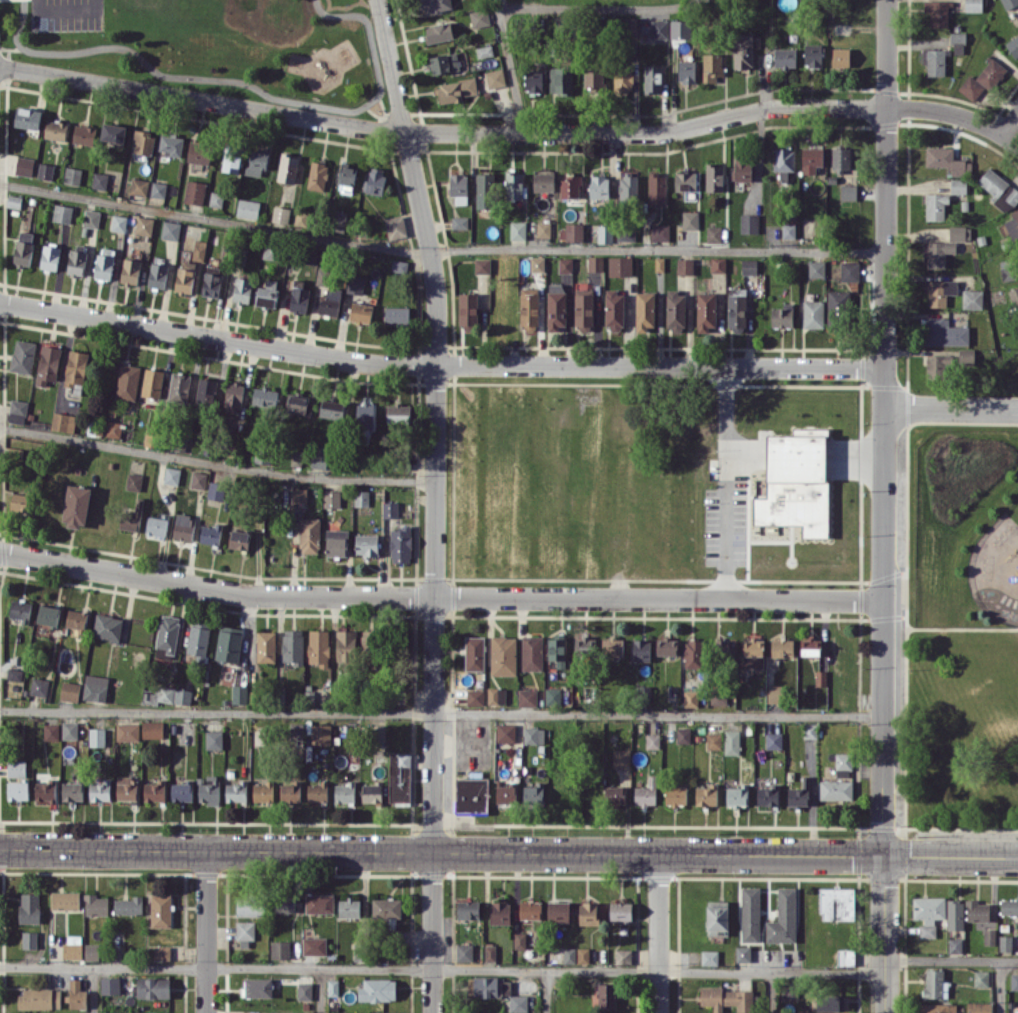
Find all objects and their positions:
building: (1009, 3)
building: (787, 4)
building: (433, 5)
building: (973, 5)
road: (597, 8)
building: (937, 12)
building: (479, 17)
building: (629, 24)
building: (658, 28)
building: (680, 28)
building: (438, 32)
building: (957, 42)
building: (1013, 44)
park: (212, 47)
building: (484, 50)
building: (742, 50)
building: (812, 54)
building: (785, 57)
building: (840, 57)
building: (934, 61)
building: (444, 63)
building: (712, 66)
road: (508, 67)
building: (686, 71)
building: (494, 78)
building: (623, 78)
building: (652, 78)
building: (560, 79)
building: (593, 79)
building: (533, 80)
building: (981, 80)
building: (455, 89)
road: (956, 114)
building: (27, 117)
road: (1011, 124)
building: (56, 129)
building: (113, 132)
building: (84, 134)
road: (441, 135)
building: (143, 142)
building: (170, 144)
building: (199, 152)
building: (840, 158)
building: (231, 159)
building: (811, 159)
building: (947, 160)
building: (256, 162)
building: (783, 162)
building: (24, 165)
building: (287, 168)
building: (742, 169)
building: (45, 170)
building: (72, 175)
building: (317, 175)
building: (346, 175)
building: (714, 177)
building: (99, 180)
building: (375, 180)
building: (685, 181)
building: (543, 182)
building: (513, 185)
building: (628, 185)
building: (958, 185)
building: (138, 186)
building: (569, 186)
building: (599, 186)
building: (458, 187)
building: (656, 188)
building: (158, 189)
building: (484, 190)
building: (999, 190)
building: (194, 192)
building: (848, 192)
building: (216, 199)
building: (935, 206)
building: (247, 208)
building: (62, 213)
building: (280, 214)
building: (91, 218)
building: (689, 220)
building: (459, 222)
building: (118, 223)
building: (749, 223)
building: (1013, 224)
building: (144, 225)
building: (395, 227)
building: (543, 229)
building: (170, 230)
building: (517, 230)
building: (788, 230)
building: (571, 232)
building: (659, 232)
building: (959, 232)
building: (625, 233)
building: (714, 233)
building: (604, 234)
building: (23, 248)
road: (440, 248)
building: (198, 249)
building: (271, 251)
building: (937, 253)
building: (50, 256)
building: (76, 260)
building: (104, 263)
building: (595, 263)
building: (537, 264)
building: (718, 264)
building: (399, 265)
building: (481, 265)
building: (565, 265)
building: (620, 265)
building: (685, 266)
building: (748, 266)
building: (816, 268)
building: (130, 270)
building: (1008, 270)
building: (849, 271)
building: (157, 275)
building: (322, 275)
building: (185, 276)
building: (211, 280)
building: (355, 284)
building: (242, 289)
building: (940, 291)
building: (267, 293)
building: (299, 296)
building: (1014, 296)
building: (972, 298)
building: (330, 301)
building: (837, 305)
building: (528, 306)
building: (736, 307)
building: (556, 309)
building: (583, 309)
building: (467, 310)
building: (613, 310)
building: (644, 310)
building: (675, 310)
building: (360, 312)
building: (705, 312)
building: (813, 313)
building: (397, 315)
building: (782, 315)
building: (944, 332)
building: (22, 356)
building: (966, 356)
building: (48, 364)
road: (441, 364)
building: (939, 365)
building: (75, 369)
building: (128, 381)
building: (152, 382)
building: (179, 386)
building: (206, 391)
building: (233, 396)
building: (264, 396)
building: (298, 404)
road: (953, 406)
building: (331, 408)
building: (17, 411)
building: (398, 413)
building: (365, 415)
building: (63, 421)
road: (436, 422)
building: (114, 429)
building: (151, 437)
building: (319, 456)
building: (296, 458)
road: (217, 464)
building: (171, 475)
building: (133, 481)
road: (726, 482)
building: (795, 484)
building: (216, 491)
building: (299, 495)
building: (361, 497)
building: (332, 498)
building: (20, 502)
building: (76, 505)
road: (886, 506)
building: (389, 509)
building: (132, 516)
building: (156, 526)
building: (184, 527)
building: (210, 533)
building: (309, 534)
building: (239, 539)
building: (336, 542)
building: (366, 544)
building: (400, 544)
road: (441, 597)
building: (20, 610)
building: (48, 614)
building: (76, 619)
building: (107, 627)
building: (167, 632)
building: (198, 639)
building: (228, 643)
building: (266, 646)
building: (292, 646)
building: (318, 646)
building: (345, 646)
building: (583, 646)
building: (612, 646)
building: (666, 646)
building: (810, 646)
building: (782, 648)
building: (557, 650)
building: (640, 650)
building: (532, 652)
building: (474, 653)
building: (694, 653)
building: (753, 653)
building: (503, 655)
building: (14, 674)
building: (820, 678)
building: (38, 686)
building: (95, 687)
building: (69, 690)
building: (774, 693)
building: (239, 694)
building: (167, 695)
building: (496, 695)
building: (552, 696)
building: (475, 697)
building: (527, 697)
building: (718, 697)
building: (690, 698)
road: (442, 714)
building: (152, 729)
building: (69, 730)
building: (51, 731)
building: (127, 731)
building: (296, 731)
building: (505, 732)
building: (320, 733)
building: (379, 733)
building: (683, 734)
building: (533, 735)
building: (97, 737)
building: (214, 739)
building: (652, 740)
building: (713, 740)
building: (773, 740)
building: (731, 742)
building: (621, 757)
building: (843, 764)
building: (16, 766)
building: (399, 776)
building: (18, 788)
building: (127, 788)
building: (209, 789)
building: (835, 789)
building: (45, 790)
building: (100, 790)
building: (72, 791)
building: (154, 791)
building: (236, 791)
building: (317, 791)
building: (181, 792)
building: (262, 792)
building: (290, 792)
building: (344, 792)
building: (371, 792)
building: (506, 792)
building: (533, 793)
building: (646, 793)
building: (799, 793)
building: (737, 794)
building: (471, 795)
building: (615, 795)
building: (675, 795)
building: (706, 795)
building: (767, 795)
road: (508, 852)
traffic signals: (884, 856)
building: (65, 900)
building: (284, 903)
building: (319, 903)
building: (837, 903)
building: (96, 904)
building: (129, 905)
building: (249, 905)
building: (1009, 906)
building: (29, 907)
building: (349, 907)
building: (386, 908)
building: (467, 909)
building: (530, 909)
building: (160, 910)
building: (621, 910)
building: (977, 910)
building: (558, 911)
building: (499, 913)
building: (591, 913)
building: (750, 914)
building: (928, 914)
building: (955, 914)
building: (717, 917)
building: (783, 917)
road: (207, 931)
building: (245, 932)
road: (435, 932)
road: (659, 934)
building: (989, 936)
building: (29, 939)
building: (519, 940)
building: (1005, 942)
building: (314, 945)
building: (955, 945)
building: (73, 947)
building: (280, 949)
building: (92, 951)
building: (489, 951)
building: (162, 952)
building: (464, 952)
building: (742, 953)
building: (569, 955)
building: (582, 955)
building: (623, 956)
building: (845, 956)
building: (709, 957)
road: (950, 958)
road: (441, 968)
building: (981, 978)
building: (1014, 981)
building: (935, 983)
building: (110, 985)
building: (485, 986)
road: (1000, 986)
building: (153, 987)
building: (257, 987)
building: (332, 987)
road: (94, 989)
building: (304, 990)
road: (321, 990)
building: (377, 990)
road: (548, 991)
road: (772, 991)
building: (76, 994)
building: (606, 995)
building: (40, 998)
building: (727, 998)
building: (829, 1002)
building: (518, 1003)
building: (979, 1007)
building: (937, 1008)
building: (304, 1012)
building: (333, 1012)

